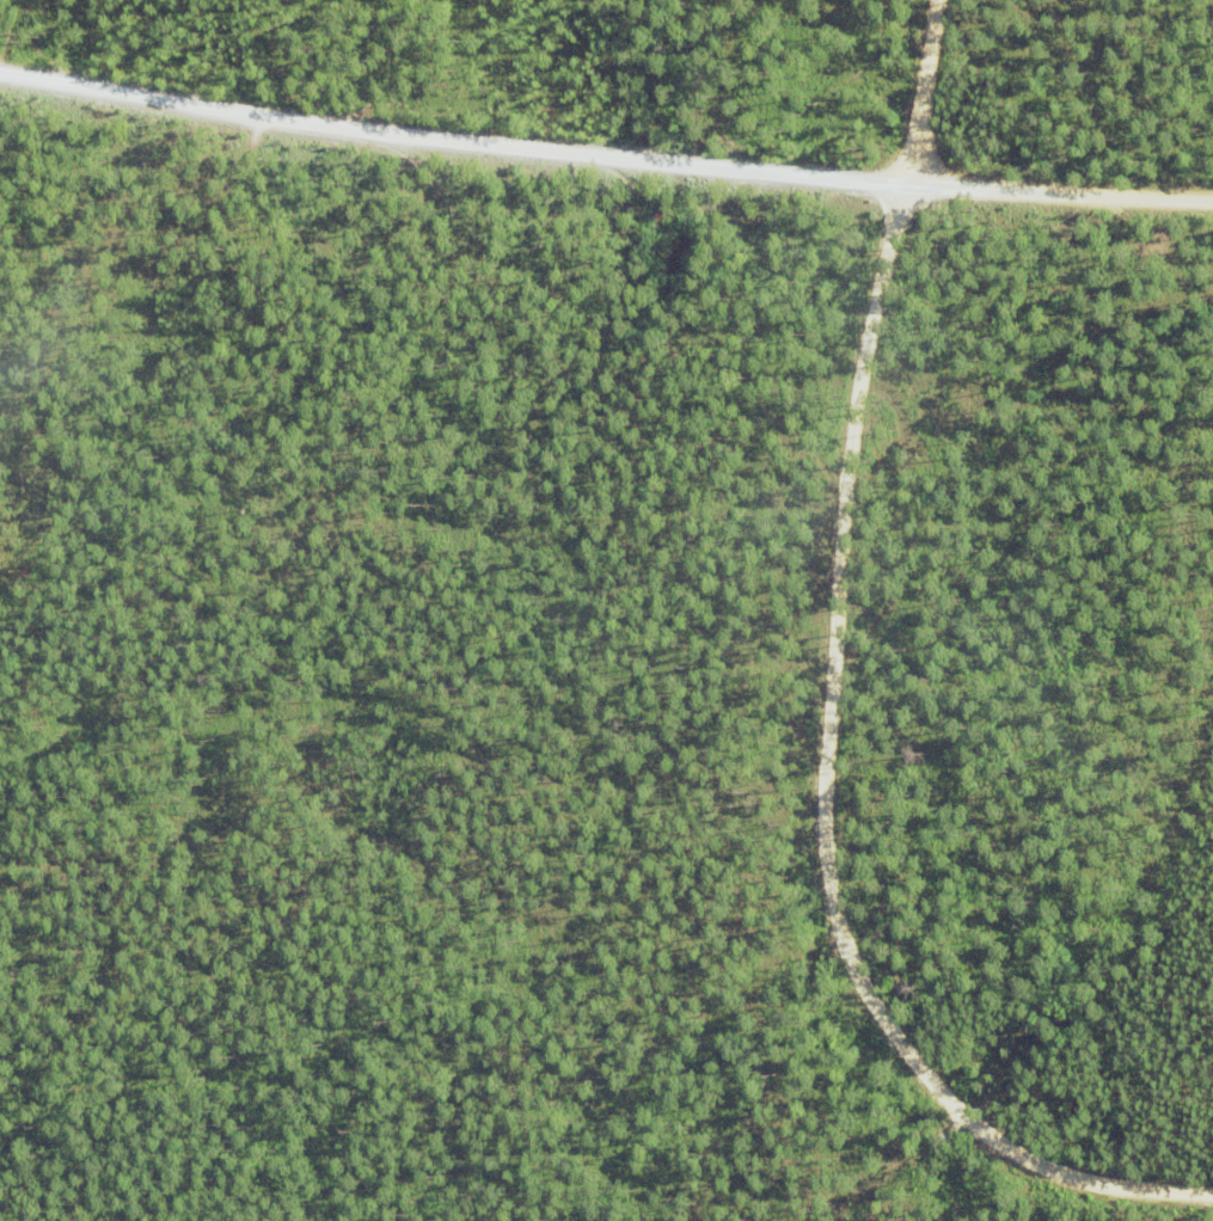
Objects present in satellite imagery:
road: (924, 92)
road: (250, 112)
road: (857, 179)
road: (823, 799)

